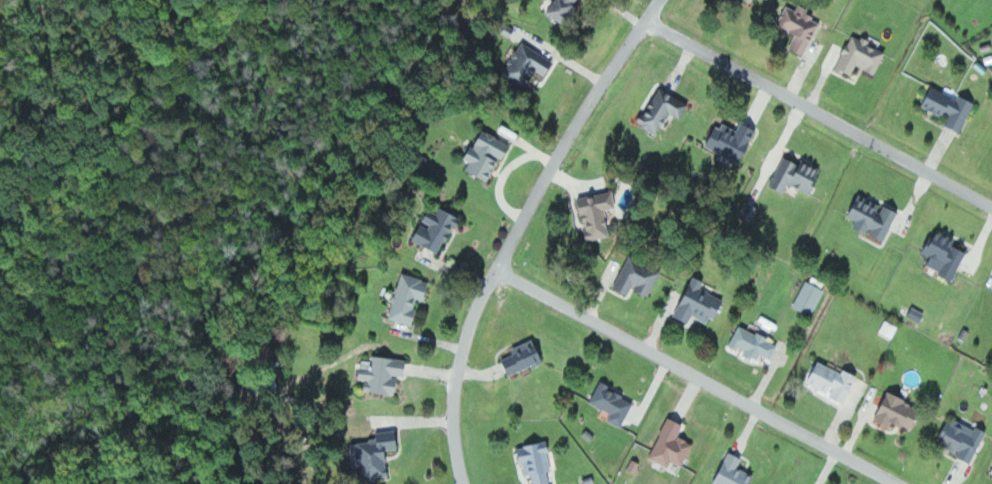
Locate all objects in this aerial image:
building: (754, 0)
building: (563, 8)
building: (802, 26)
building: (862, 56)
building: (529, 63)
building: (952, 106)
building: (664, 109)
road: (819, 110)
building: (734, 139)
building: (489, 153)
building: (797, 174)
building: (598, 213)
building: (874, 216)
road: (516, 228)
building: (439, 229)
building: (946, 253)
building: (639, 276)
building: (410, 297)
building: (810, 297)
building: (701, 302)
building: (917, 313)
building: (890, 328)
building: (755, 343)
building: (525, 356)
building: (385, 373)
road: (693, 377)
building: (834, 380)
building: (615, 403)
building: (900, 410)
building: (962, 437)
building: (673, 444)
building: (378, 453)
building: (537, 461)
building: (735, 471)

